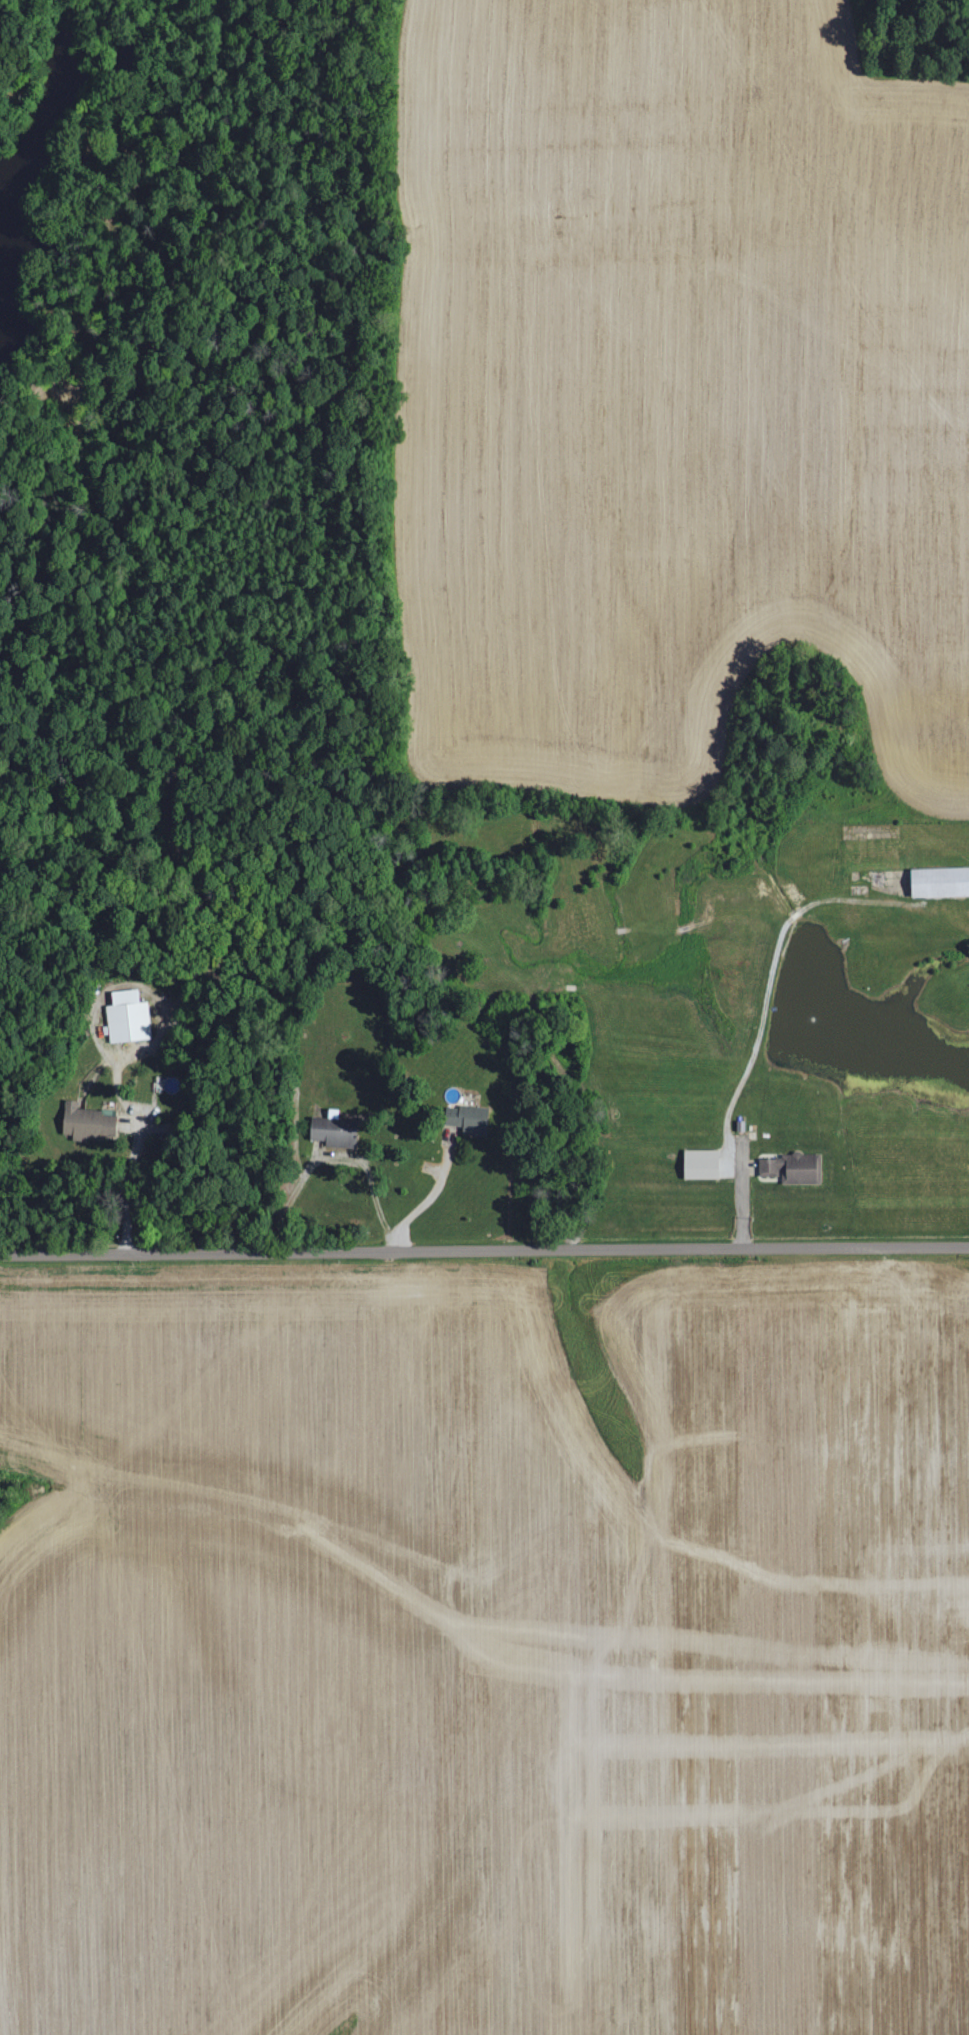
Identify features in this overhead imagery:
building: (127, 1016)
building: (468, 1119)
building: (87, 1122)
building: (333, 1131)
road: (132, 1162)
building: (700, 1163)
building: (787, 1167)
road: (363, 1173)
road: (731, 1180)
road: (421, 1200)
road: (484, 1250)

